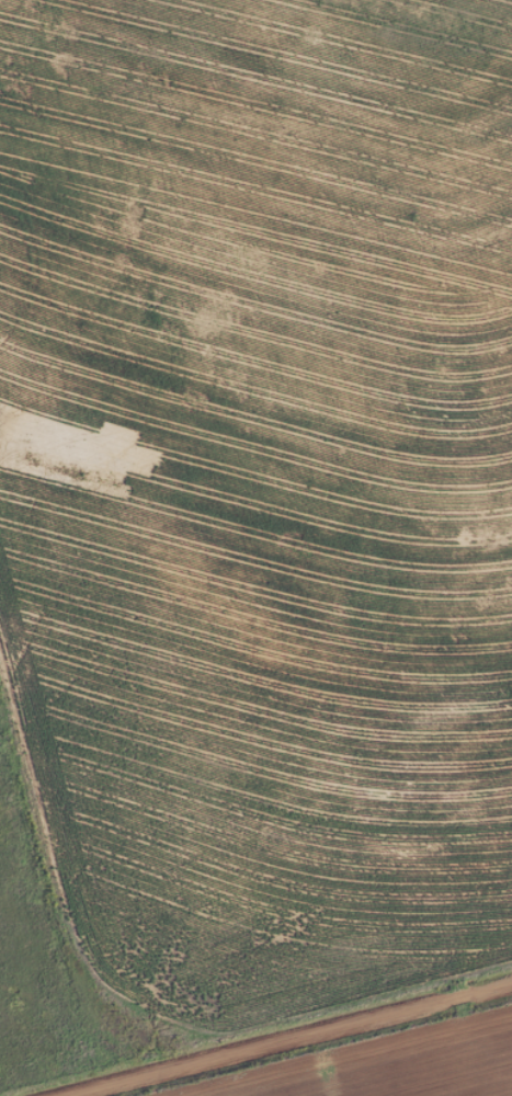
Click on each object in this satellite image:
road: (278, 1037)

